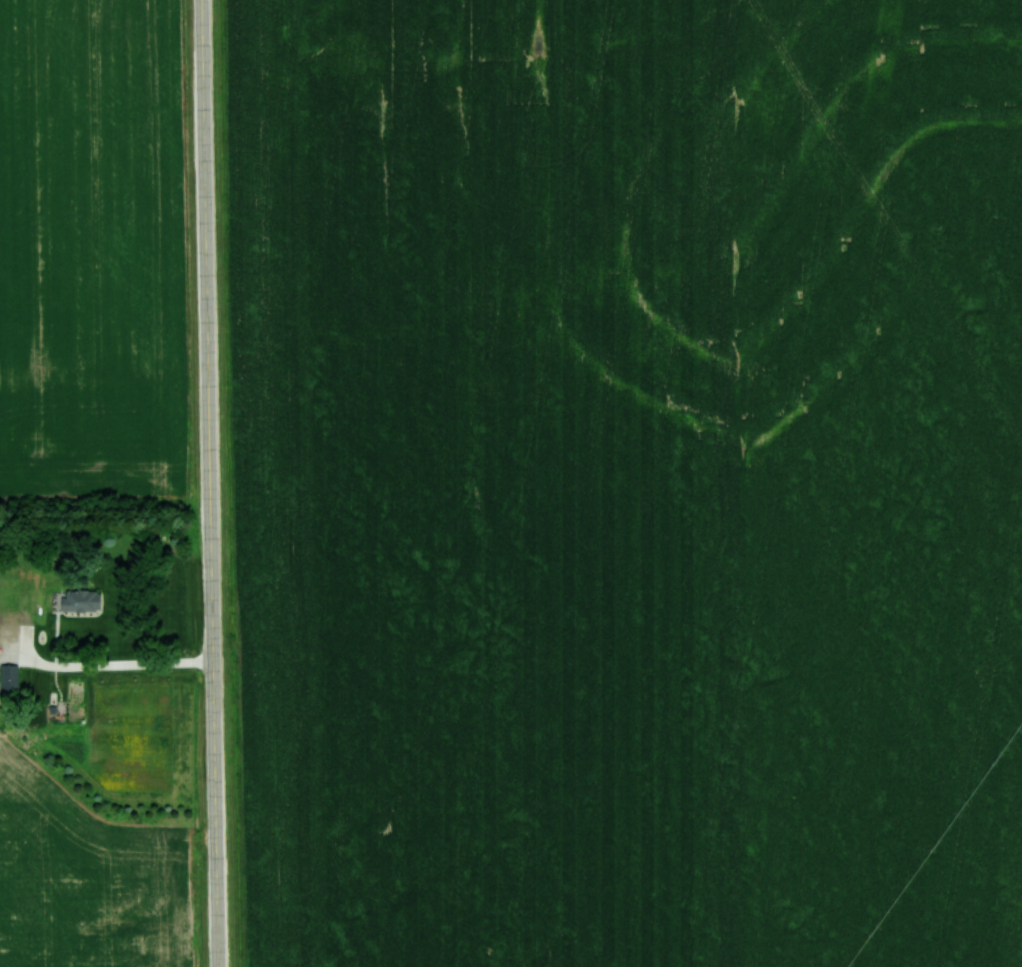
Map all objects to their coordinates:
road: (209, 483)
building: (79, 601)
building: (6, 629)
building: (8, 679)

